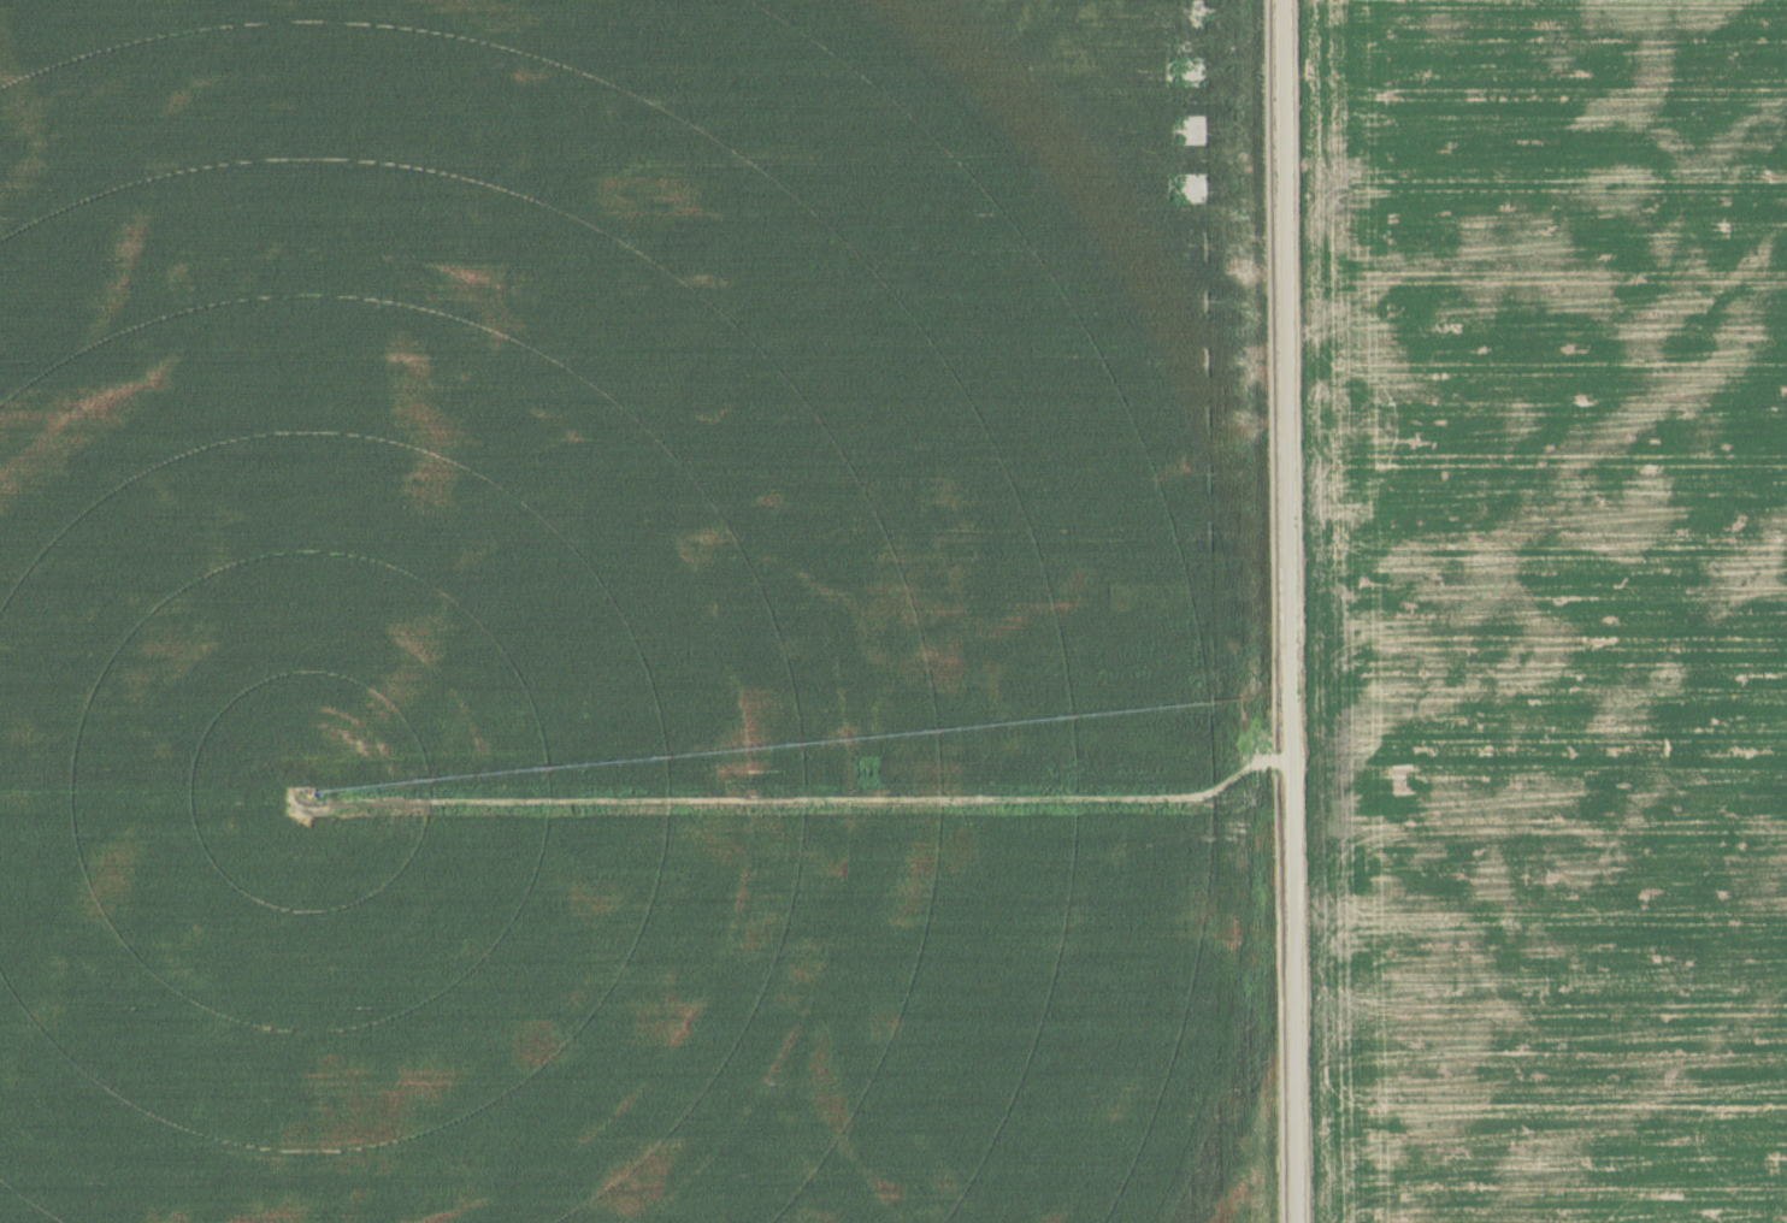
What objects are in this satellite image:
road: (1290, 611)

